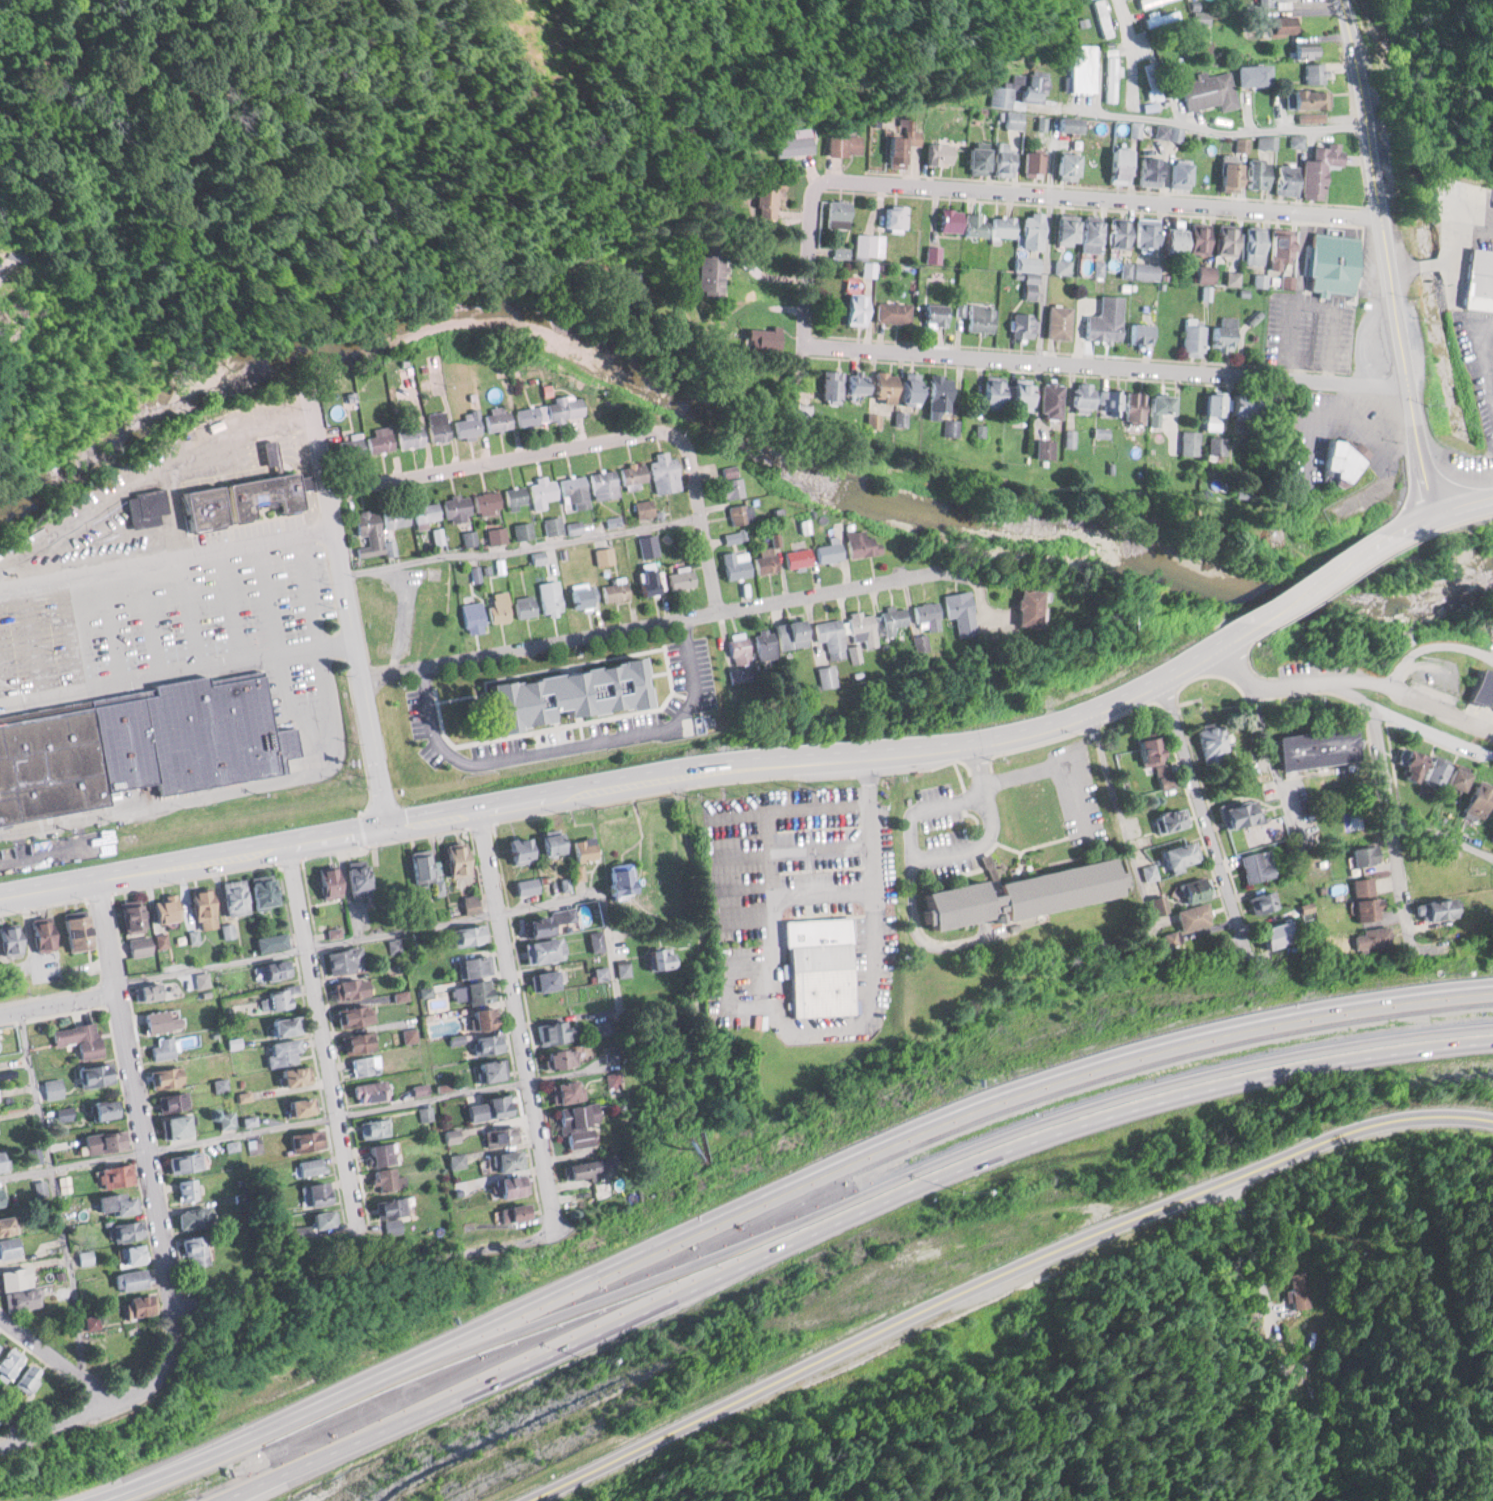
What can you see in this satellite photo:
building: (1263, 3)
building: (1102, 18)
building: (1162, 18)
building: (1278, 25)
road: (1130, 41)
building: (1300, 49)
building: (1080, 67)
building: (1314, 72)
building: (1110, 74)
building: (1252, 74)
building: (1153, 81)
building: (1000, 90)
building: (1208, 91)
building: (1305, 98)
building: (1013, 119)
building: (1067, 124)
road: (1191, 126)
building: (1296, 140)
building: (901, 142)
building: (1241, 144)
building: (789, 145)
building: (843, 145)
building: (938, 151)
building: (1001, 158)
building: (974, 159)
building: (1031, 163)
building: (1116, 164)
building: (1063, 165)
building: (1317, 168)
building: (1146, 171)
building: (1176, 174)
building: (1254, 174)
building: (1227, 176)
building: (1284, 178)
building: (766, 196)
road: (1095, 196)
building: (837, 212)
building: (894, 216)
building: (947, 219)
building: (987, 224)
building: (1029, 230)
building: (1061, 231)
building: (1086, 231)
building: (1115, 232)
building: (1144, 232)
building: (1196, 238)
building: (1224, 240)
building: (1172, 241)
building: (865, 245)
building: (1251, 245)
building: (1276, 250)
road: (1386, 258)
road: (1452, 259)
building: (1026, 263)
building: (1330, 263)
road: (813, 265)
building: (710, 268)
building: (870, 268)
building: (1198, 273)
road: (1045, 275)
building: (1479, 279)
building: (854, 309)
building: (891, 311)
building: (933, 314)
building: (979, 318)
building: (1103, 319)
building: (1057, 321)
building: (1022, 324)
building: (1137, 333)
building: (1222, 333)
building: (1191, 338)
road: (1484, 356)
road: (1111, 362)
building: (853, 382)
building: (829, 386)
building: (881, 386)
building: (907, 387)
building: (988, 389)
building: (936, 391)
building: (1016, 393)
building: (1080, 395)
building: (1049, 399)
building: (1108, 401)
building: (1158, 403)
building: (1210, 403)
building: (1133, 406)
building: (548, 411)
building: (497, 420)
building: (467, 423)
building: (437, 425)
building: (409, 434)
road: (298, 438)
building: (379, 439)
building: (1189, 441)
road: (266, 444)
building: (1217, 444)
building: (348, 445)
road: (245, 448)
road: (233, 452)
road: (294, 457)
building: (1343, 458)
road: (269, 461)
building: (303, 461)
road: (503, 463)
road: (152, 469)
building: (664, 472)
building: (632, 473)
building: (306, 480)
road: (306, 480)
building: (603, 483)
building: (729, 486)
building: (286, 490)
building: (574, 491)
building: (541, 492)
building: (515, 496)
building: (248, 497)
building: (485, 501)
building: (146, 504)
road: (175, 507)
building: (208, 507)
building: (455, 507)
road: (1458, 507)
road: (311, 508)
building: (643, 508)
building: (424, 511)
building: (741, 513)
building: (394, 516)
road: (704, 519)
building: (553, 524)
road: (338, 526)
building: (523, 529)
road: (1397, 531)
building: (368, 532)
building: (732, 537)
building: (861, 543)
building: (647, 545)
road: (526, 549)
building: (828, 551)
building: (603, 554)
road: (169, 556)
building: (538, 556)
building: (796, 556)
building: (765, 561)
building: (735, 564)
building: (680, 579)
building: (644, 580)
road: (1309, 584)
building: (613, 591)
building: (581, 595)
building: (551, 602)
road: (229, 603)
building: (497, 606)
building: (524, 606)
building: (1028, 607)
road: (192, 610)
building: (961, 611)
road: (405, 617)
building: (472, 617)
road: (152, 618)
building: (893, 618)
street lamp: (175, 621)
road: (316, 621)
building: (926, 621)
road: (658, 625)
road: (110, 626)
road: (277, 627)
building: (863, 627)
road: (73, 632)
building: (783, 637)
building: (831, 637)
street lamp: (56, 638)
road: (36, 639)
road: (1434, 641)
building: (739, 648)
road: (178, 671)
building: (827, 676)
road: (1270, 678)
building: (176, 683)
building: (1482, 689)
road: (1418, 691)
road: (1, 692)
building: (572, 694)
road: (1416, 713)
building: (189, 736)
building: (1215, 742)
road: (570, 747)
building: (1313, 748)
road: (376, 750)
building: (1147, 750)
building: (76, 756)
building: (46, 762)
road: (1059, 762)
road: (1276, 764)
building: (1409, 765)
building: (25, 766)
road: (682, 771)
building: (1432, 773)
building: (1164, 775)
building: (8, 779)
building: (1456, 780)
road: (197, 795)
building: (1476, 799)
road: (1200, 805)
road: (1387, 808)
building: (1237, 812)
building: (1034, 817)
building: (1169, 818)
traffic signals: (389, 824)
road: (910, 827)
road: (1125, 833)
building: (548, 843)
building: (515, 848)
building: (581, 849)
building: (1177, 853)
building: (1364, 854)
building: (454, 860)
building: (421, 865)
building: (1257, 866)
building: (392, 872)
building: (358, 876)
building: (329, 880)
building: (617, 880)
building: (1431, 882)
road: (875, 884)
building: (527, 885)
road: (50, 887)
building: (1192, 889)
building: (260, 892)
building: (1021, 893)
building: (233, 897)
building: (1363, 898)
road: (553, 901)
building: (1264, 902)
building: (470, 903)
building: (1158, 903)
building: (205, 904)
building: (166, 906)
building: (1437, 908)
building: (564, 915)
building: (131, 916)
building: (1194, 916)
building: (534, 926)
building: (75, 930)
building: (44, 932)
building: (467, 934)
building: (1272, 935)
building: (1371, 936)
building: (9, 939)
building: (162, 940)
building: (272, 941)
building: (595, 941)
building: (138, 945)
building: (541, 950)
building: (343, 959)
building: (655, 959)
building: (472, 963)
road: (215, 964)
building: (817, 966)
building: (275, 968)
road: (617, 976)
building: (205, 978)
building: (542, 980)
building: (349, 988)
building: (147, 991)
building: (474, 991)
road: (60, 996)
building: (279, 997)
building: (353, 1015)
building: (480, 1017)
road: (521, 1018)
building: (161, 1019)
building: (280, 1025)
building: (558, 1031)
road: (327, 1034)
building: (79, 1038)
building: (357, 1041)
building: (486, 1042)
building: (163, 1048)
building: (281, 1050)
building: (561, 1057)
building: (364, 1064)
building: (491, 1068)
building: (93, 1074)
building: (293, 1075)
building: (165, 1076)
road: (137, 1087)
building: (561, 1091)
building: (369, 1092)
road: (1164, 1092)
building: (171, 1100)
building: (300, 1105)
building: (487, 1107)
building: (226, 1118)
road: (314, 1118)
building: (577, 1124)
building: (173, 1125)
building: (374, 1127)
building: (501, 1133)
building: (104, 1140)
building: (305, 1140)
building: (377, 1154)
building: (3, 1159)
building: (503, 1160)
building: (184, 1161)
building: (310, 1166)
building: (586, 1168)
road: (824, 1169)
building: (116, 1174)
building: (387, 1179)
building: (508, 1186)
building: (187, 1188)
road: (57, 1193)
building: (314, 1193)
building: (2, 1195)
building: (116, 1203)
building: (389, 1207)
building: (511, 1212)
building: (193, 1217)
building: (321, 1219)
building: (5, 1224)
building: (125, 1230)
building: (8, 1247)
building: (193, 1251)
building: (131, 1254)
road: (363, 1268)
road: (1003, 1275)
building: (15, 1277)
building: (131, 1279)
building: (1297, 1290)
building: (24, 1298)
building: (138, 1305)
building: (92, 1322)
road: (52, 1357)
road: (541, 1358)
building: (8, 1361)
building: (26, 1378)
road: (115, 1396)
road: (13, 1424)
road: (133, 1479)

